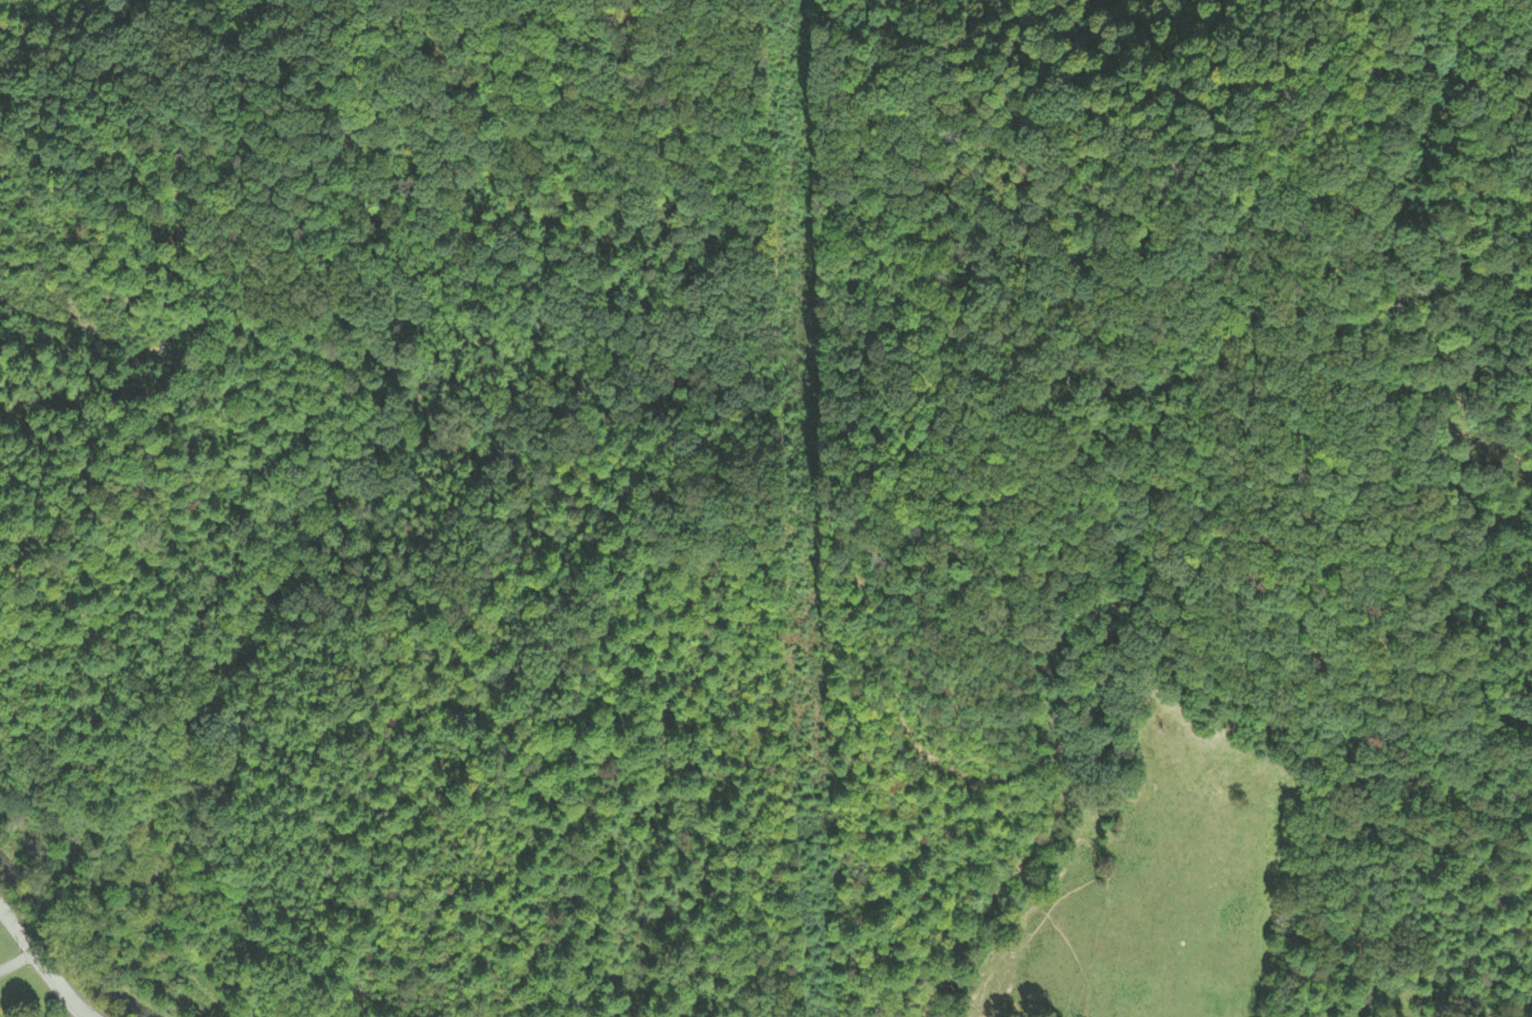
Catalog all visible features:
road: (18, 930)
river: (73, 953)
road: (18, 964)
road: (60, 986)

